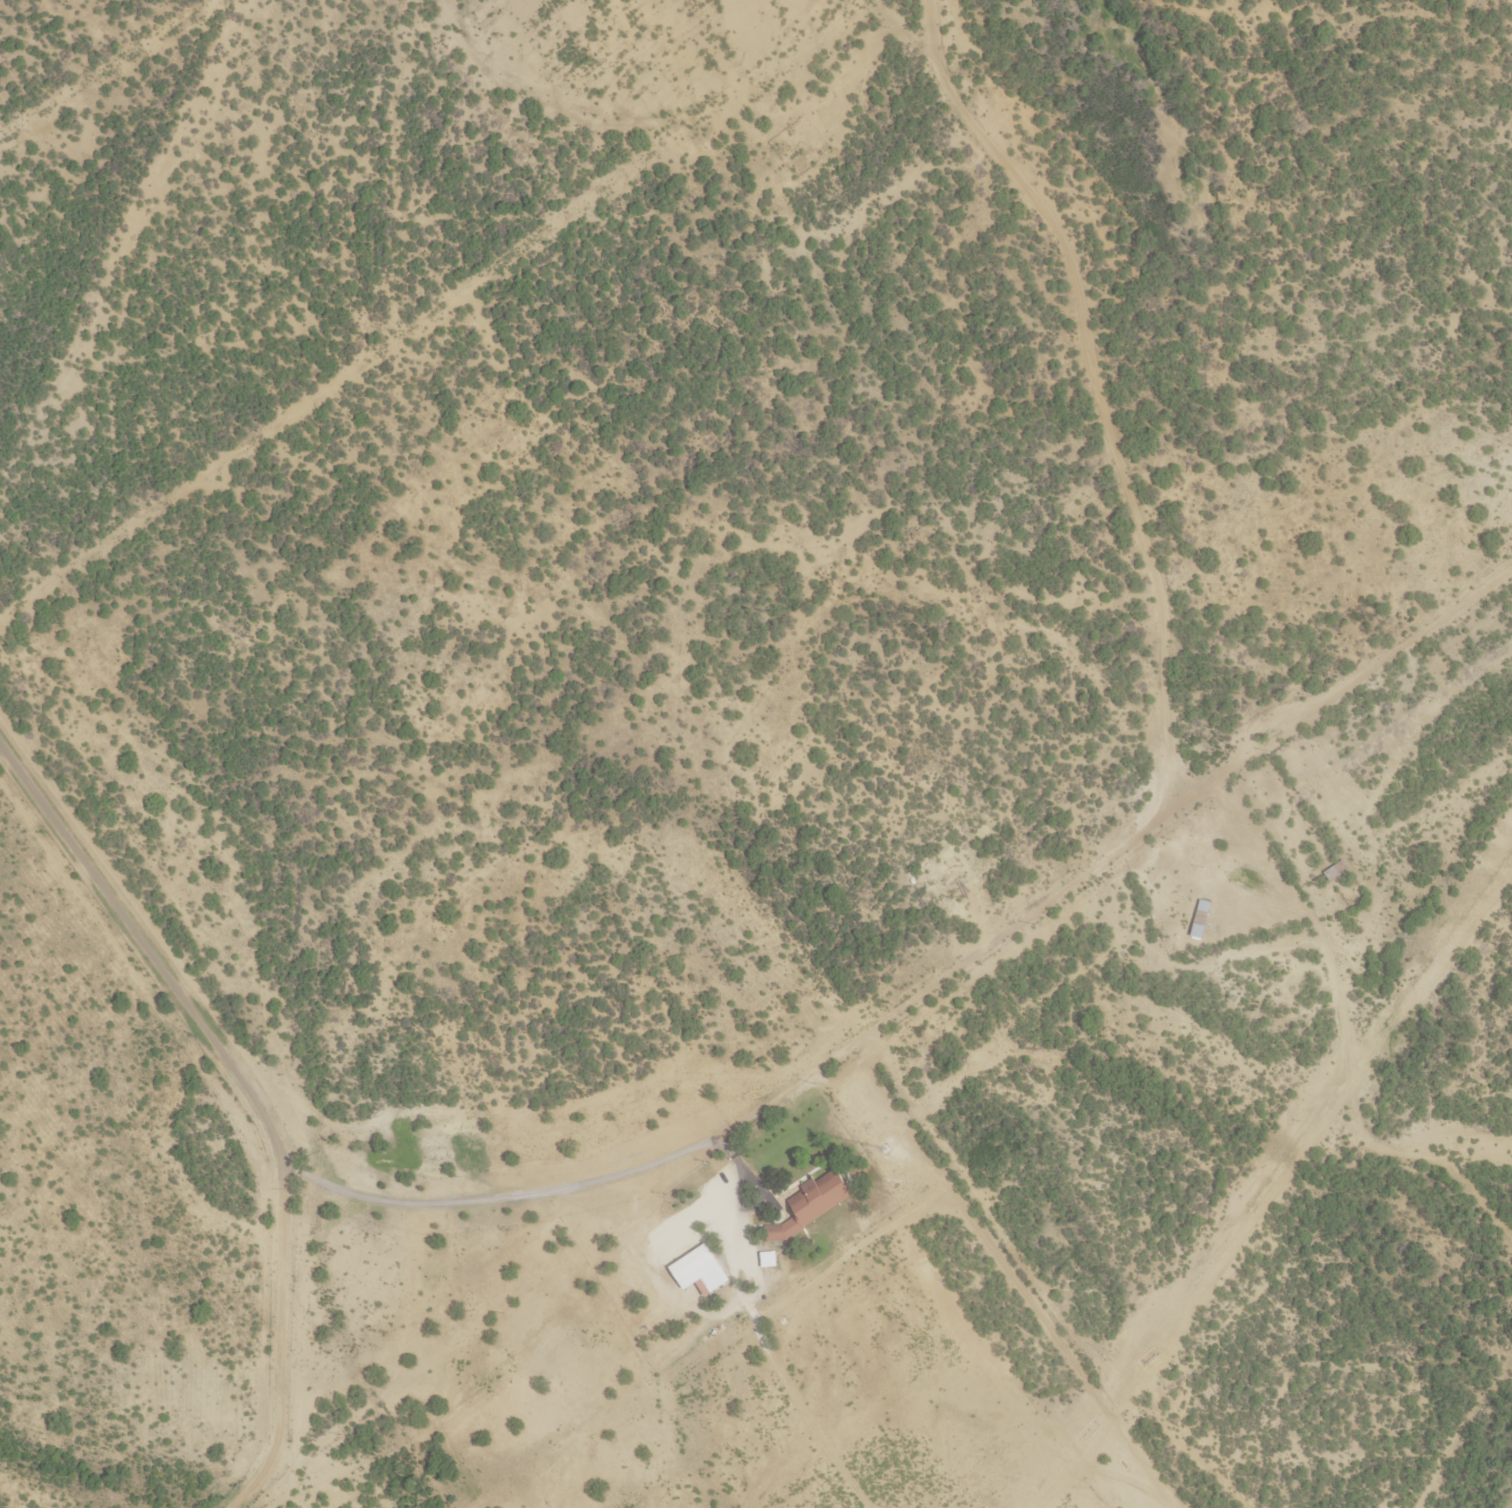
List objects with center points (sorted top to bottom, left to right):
road: (1509, 1)
building: (1336, 870)
building: (1200, 918)
road: (144, 937)
road: (928, 988)
building: (816, 1191)
building: (776, 1232)
building: (768, 1259)
building: (699, 1270)
road: (283, 1334)

